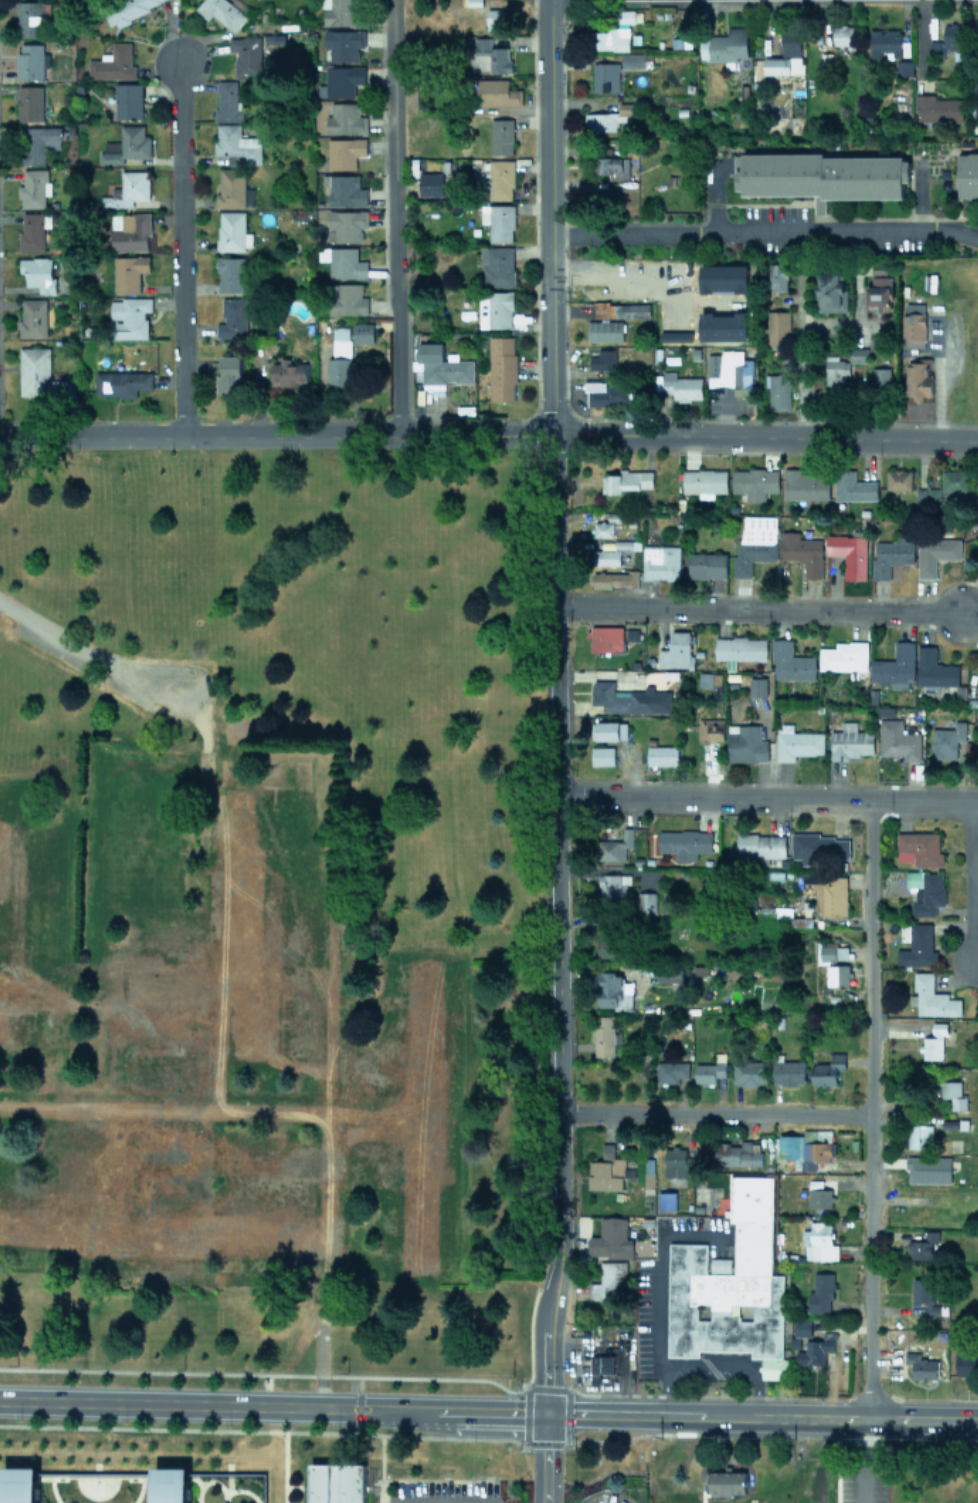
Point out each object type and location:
building: (128, 8)
building: (221, 12)
building: (341, 12)
building: (29, 18)
building: (493, 19)
building: (843, 36)
building: (613, 38)
building: (948, 40)
building: (884, 41)
building: (345, 43)
building: (724, 45)
building: (493, 54)
building: (247, 56)
building: (31, 60)
building: (632, 60)
building: (113, 63)
building: (904, 67)
building: (605, 76)
building: (344, 79)
building: (498, 92)
building: (128, 100)
building: (30, 102)
building: (227, 102)
building: (937, 108)
building: (608, 118)
building: (346, 119)
building: (501, 136)
building: (40, 142)
building: (126, 145)
building: (237, 145)
building: (345, 152)
road: (393, 152)
building: (613, 166)
building: (968, 174)
building: (821, 176)
building: (501, 179)
building: (430, 183)
building: (34, 187)
building: (232, 188)
building: (127, 190)
building: (346, 190)
road: (549, 216)
building: (498, 221)
building: (346, 225)
road: (764, 230)
building: (130, 231)
building: (232, 231)
building: (32, 232)
road: (178, 249)
building: (497, 265)
building: (38, 272)
building: (129, 272)
building: (230, 273)
road: (607, 274)
building: (779, 276)
building: (608, 288)
building: (831, 292)
building: (914, 307)
building: (495, 309)
building: (621, 310)
building: (33, 317)
building: (129, 317)
building: (233, 318)
building: (778, 328)
building: (913, 329)
building: (604, 330)
building: (362, 332)
road: (802, 352)
building: (858, 354)
building: (340, 358)
building: (603, 359)
building: (440, 366)
building: (501, 368)
road: (395, 369)
building: (729, 369)
building: (837, 371)
building: (288, 373)
building: (40, 374)
building: (228, 374)
building: (881, 377)
building: (918, 377)
building: (121, 383)
building: (681, 386)
building: (778, 391)
building: (614, 392)
road: (939, 397)
road: (276, 435)
road: (764, 435)
building: (898, 479)
building: (626, 480)
building: (953, 480)
building: (704, 482)
building: (754, 482)
building: (805, 485)
building: (853, 487)
building: (927, 497)
building: (602, 529)
building: (977, 537)
building: (755, 543)
building: (802, 552)
building: (936, 553)
building: (849, 554)
building: (890, 555)
building: (606, 557)
building: (661, 562)
building: (706, 565)
building: (614, 578)
building: (391, 605)
road: (755, 607)
road: (66, 611)
building: (606, 638)
building: (739, 649)
building: (676, 651)
building: (843, 656)
building: (790, 662)
building: (895, 666)
building: (934, 668)
building: (758, 686)
building: (976, 686)
building: (622, 698)
building: (259, 713)
building: (710, 728)
building: (605, 730)
building: (898, 740)
building: (947, 740)
building: (850, 741)
building: (796, 742)
building: (745, 743)
building: (602, 755)
building: (662, 755)
building: (244, 782)
road: (766, 796)
road: (918, 814)
road: (966, 817)
building: (209, 835)
building: (684, 842)
building: (761, 845)
building: (616, 846)
building: (819, 847)
building: (919, 848)
building: (913, 878)
road: (969, 879)
building: (613, 887)
building: (829, 893)
building: (929, 895)
building: (271, 901)
building: (647, 901)
road: (556, 922)
building: (371, 940)
building: (609, 947)
building: (918, 947)
building: (189, 951)
building: (670, 974)
building: (838, 974)
building: (614, 991)
building: (933, 998)
building: (604, 1035)
building: (135, 1062)
building: (297, 1063)
building: (382, 1063)
building: (827, 1069)
building: (671, 1071)
building: (709, 1072)
building: (788, 1072)
building: (749, 1073)
building: (953, 1094)
road: (868, 1107)
road: (713, 1113)
building: (920, 1136)
building: (803, 1149)
building: (738, 1154)
building: (678, 1162)
building: (844, 1165)
building: (928, 1169)
building: (605, 1170)
building: (819, 1195)
building: (666, 1200)
building: (610, 1239)
building: (819, 1242)
building: (922, 1245)
building: (609, 1279)
building: (730, 1285)
building: (821, 1292)
building: (924, 1295)
road: (661, 1302)
building: (802, 1327)
building: (816, 1350)
building: (966, 1361)
building: (601, 1363)
building: (921, 1366)
road: (274, 1374)
road: (325, 1390)
road: (931, 1399)
road: (357, 1403)
road: (272, 1404)
road: (760, 1414)
road: (283, 1430)
road: (771, 1434)
road: (543, 1456)
road: (863, 1459)
road: (284, 1467)
road: (96, 1468)
road: (0, 1474)
road: (95, 1475)
road: (1, 1476)
road: (230, 1476)
road: (196, 1478)
road: (207, 1480)
building: (336, 1483)
building: (727, 1483)
building: (20, 1484)
building: (171, 1484)
park: (96, 1486)
road: (296, 1486)
road: (52, 1489)
road: (139, 1489)
road: (239, 1489)
parking lot: (442, 1492)
building: (699, 1499)

